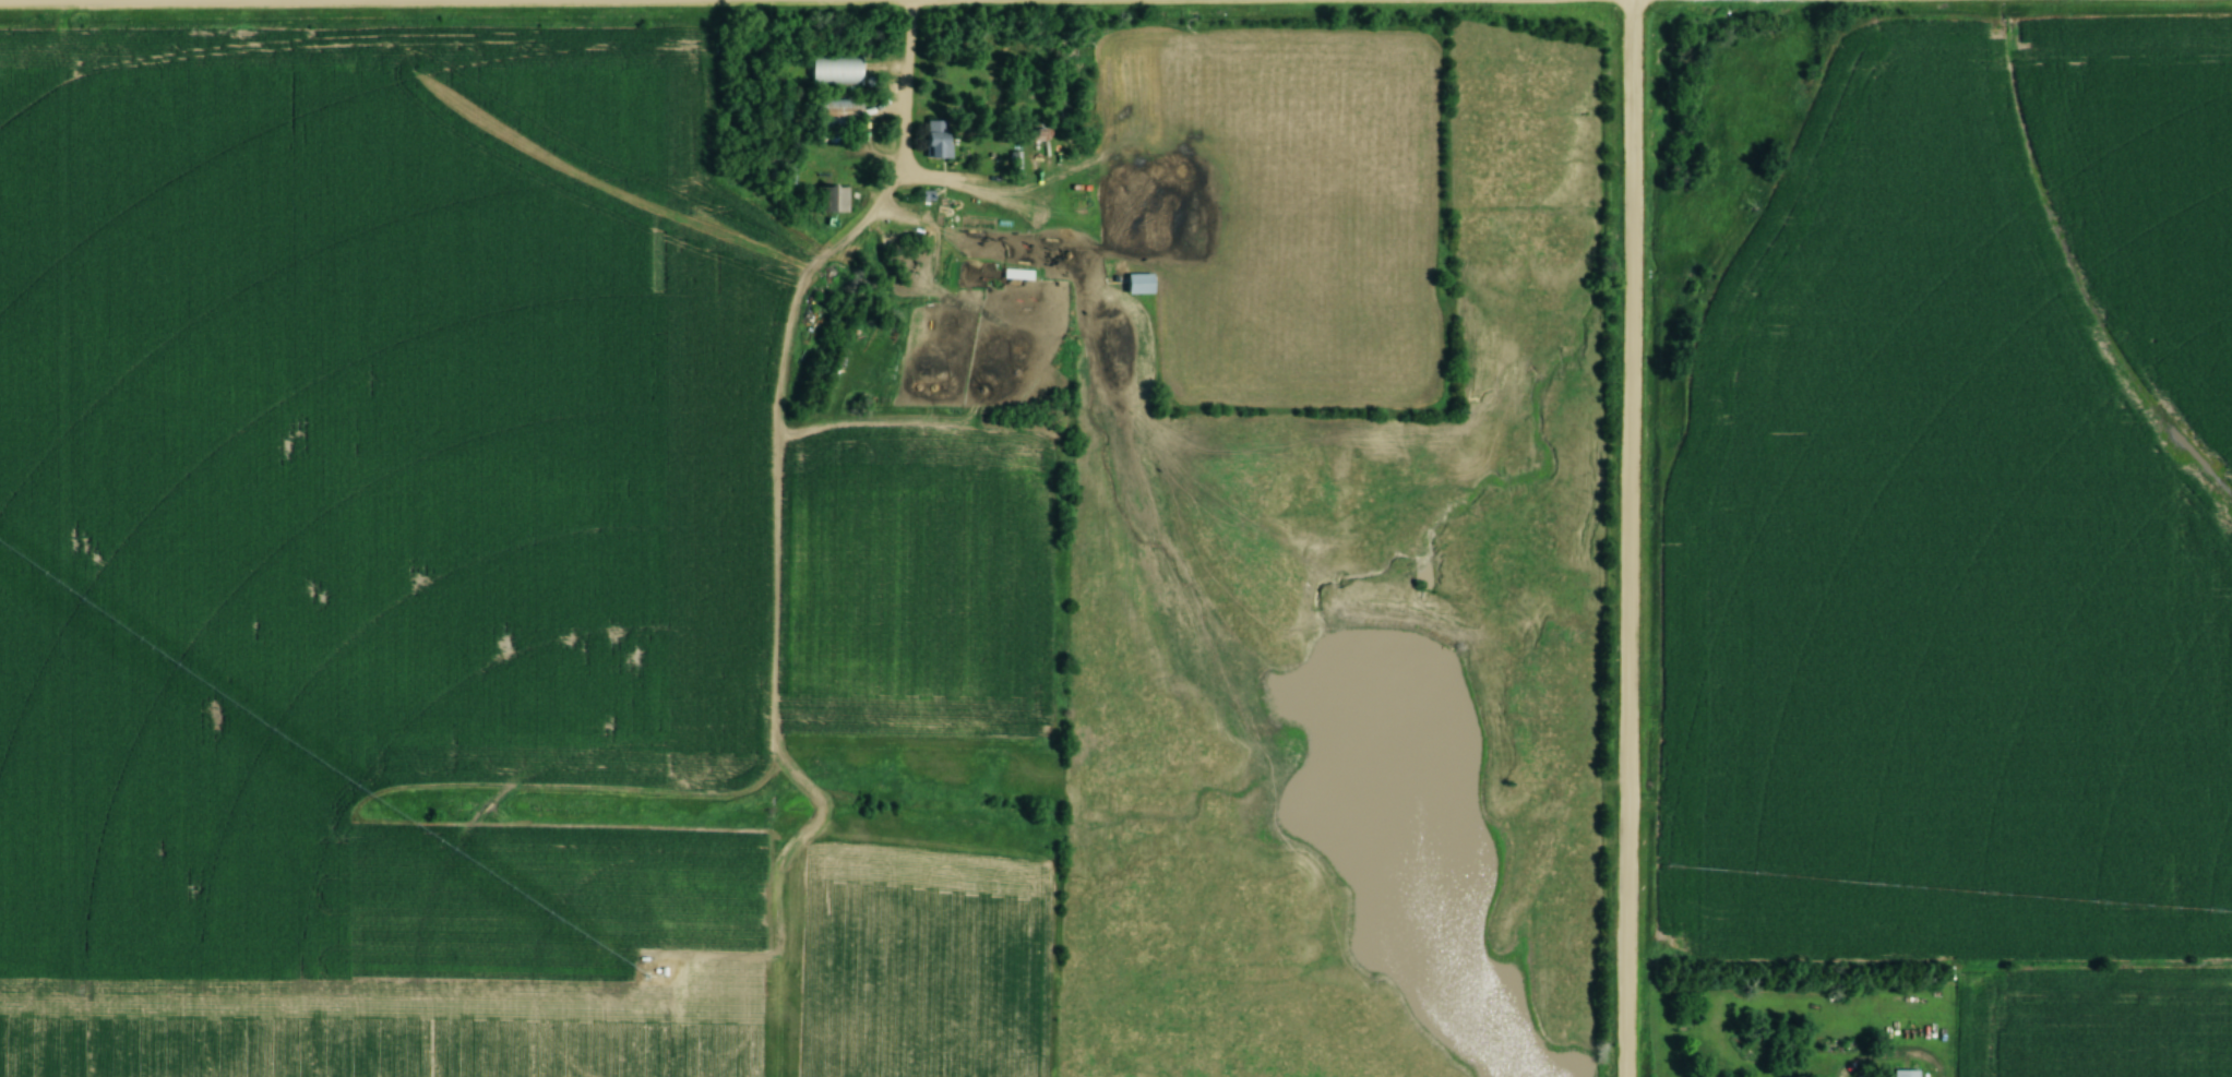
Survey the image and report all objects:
road: (387, 0)
building: (835, 72)
building: (836, 113)
building: (1031, 133)
building: (935, 140)
road: (903, 144)
building: (829, 199)
building: (1000, 213)
building: (1014, 267)
building: (1138, 284)
road: (1630, 538)
building: (1905, 1074)

